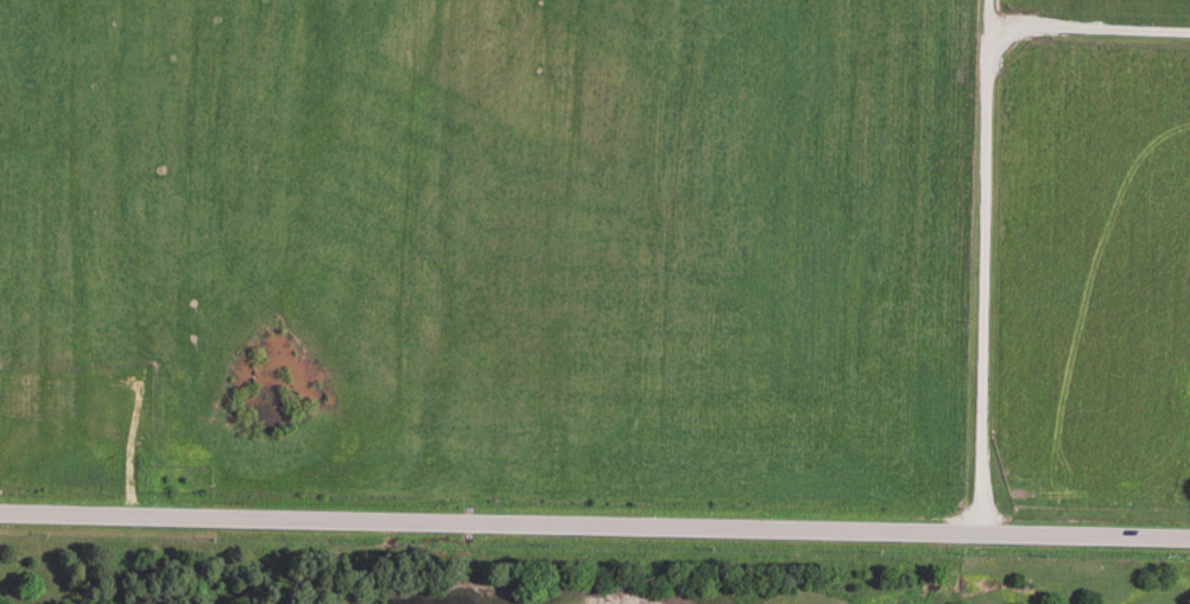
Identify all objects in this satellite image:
road: (1090, 28)
road: (985, 267)
road: (595, 524)

